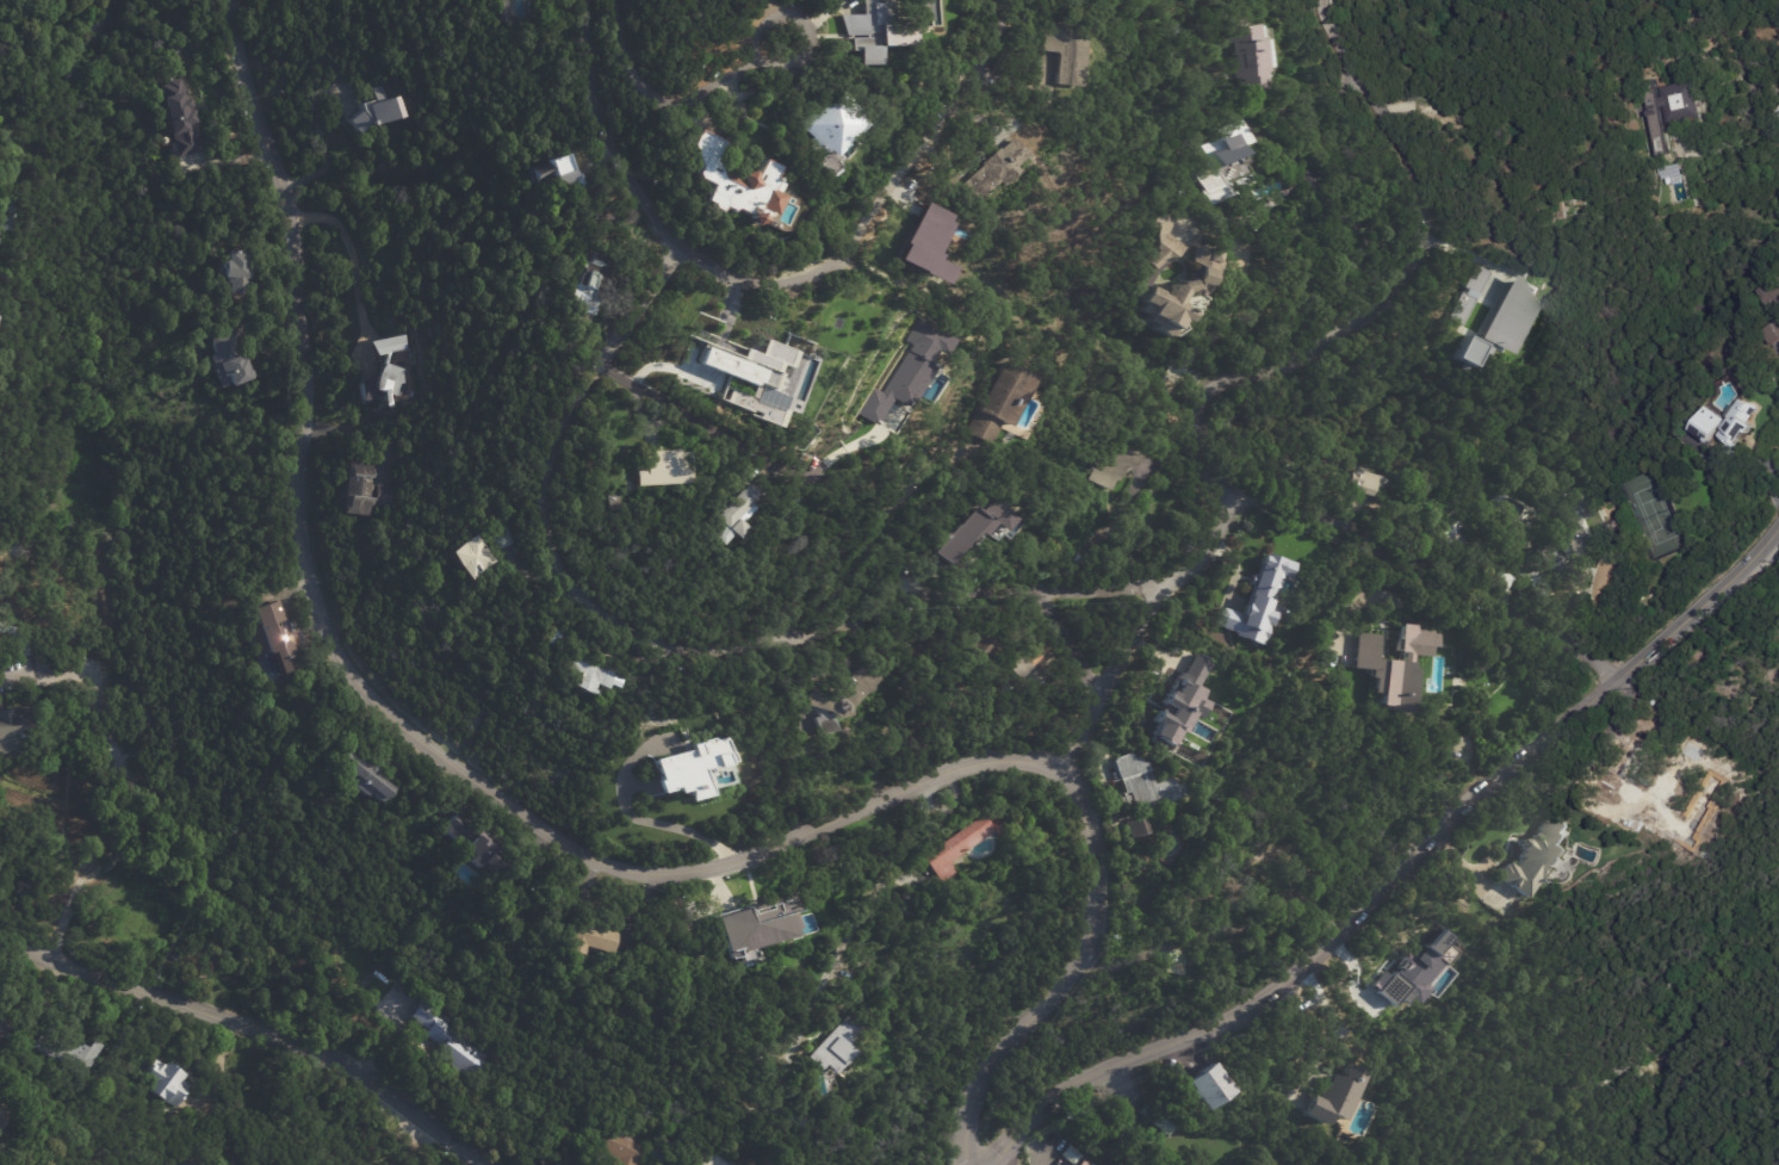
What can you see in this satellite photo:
building: (876, 25)
building: (1067, 54)
building: (1252, 54)
road: (799, 57)
building: (867, 57)
building: (1666, 63)
building: (1227, 76)
road: (1750, 89)
road: (655, 93)
building: (1684, 103)
building: (374, 113)
building: (1778, 114)
building: (175, 118)
building: (829, 130)
building: (1661, 132)
road: (605, 135)
road: (324, 144)
building: (1226, 165)
building: (548, 169)
building: (997, 169)
building: (739, 182)
road: (1326, 193)
road: (879, 206)
building: (925, 242)
building: (1169, 243)
road: (352, 253)
building: (1524, 260)
building: (1204, 266)
building: (1544, 269)
building: (233, 273)
building: (1477, 280)
building: (1778, 280)
building: (587, 284)
road: (1388, 286)
building: (1768, 295)
building: (1165, 309)
building: (1461, 310)
building: (837, 316)
building: (1510, 317)
building: (541, 331)
building: (1772, 335)
road: (1210, 339)
building: (1469, 352)
building: (227, 359)
building: (1463, 368)
building: (384, 370)
building: (756, 377)
building: (1000, 402)
road: (676, 407)
building: (1728, 426)
building: (1116, 464)
building: (665, 470)
building: (1363, 484)
building: (360, 491)
building: (799, 496)
building: (612, 503)
building: (1574, 512)
building: (736, 516)
building: (1612, 527)
building: (973, 529)
building: (502, 538)
road: (862, 538)
building: (1458, 538)
road: (1208, 541)
building: (1555, 556)
building: (470, 560)
road: (1425, 568)
building: (1500, 581)
road: (1360, 600)
building: (1259, 602)
building: (272, 638)
road: (1070, 645)
building: (986, 649)
building: (1349, 651)
road: (682, 652)
building: (1031, 657)
building: (581, 667)
building: (1394, 668)
road: (1116, 675)
building: (1182, 700)
building: (842, 701)
road: (384, 713)
building: (1200, 714)
building: (14, 731)
building: (1635, 751)
building: (692, 767)
building: (361, 781)
road: (119, 782)
building: (1143, 786)
road: (644, 816)
building: (1139, 829)
building: (475, 847)
building: (961, 847)
building: (1538, 856)
road: (1397, 868)
building: (1246, 872)
building: (1515, 905)
road: (860, 913)
building: (762, 921)
building: (585, 943)
building: (1177, 965)
building: (335, 971)
building: (1419, 971)
road: (1067, 979)
building: (420, 1009)
road: (1332, 1027)
building: (5, 1028)
road: (254, 1030)
building: (836, 1048)
building: (67, 1052)
building: (460, 1054)
building: (171, 1083)
building: (1205, 1086)
building: (1337, 1097)
building: (1159, 1116)
building: (1277, 1117)
building: (2, 1122)
building: (618, 1145)
road: (1008, 1154)
building: (1076, 1155)
building: (188, 1163)
building: (1084, 1163)
road: (2, 1164)

